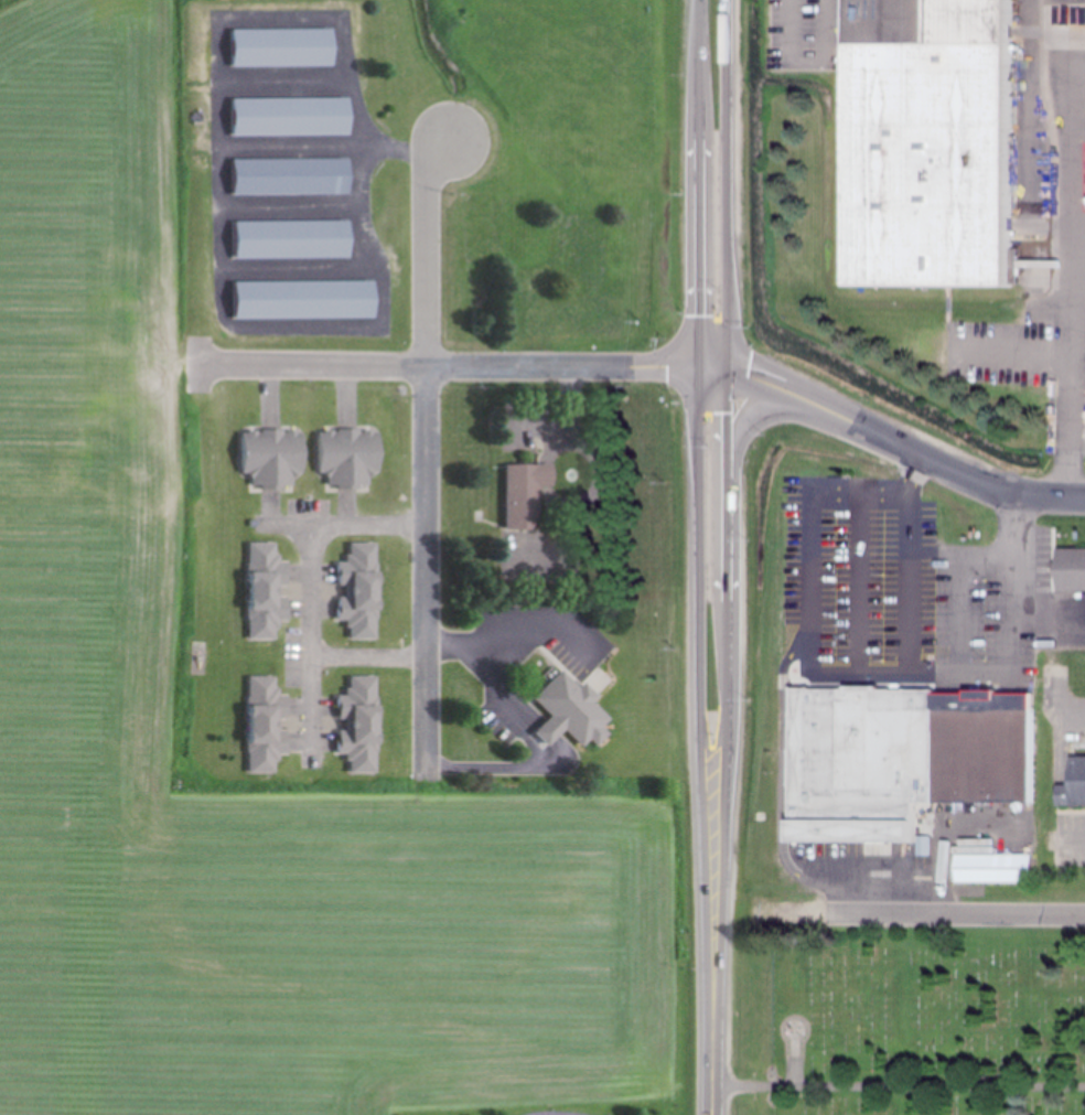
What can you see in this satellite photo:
road: (784, 10)
building: (282, 47)
building: (289, 117)
building: (925, 141)
building: (291, 178)
road: (699, 183)
road: (727, 183)
building: (291, 239)
building: (577, 247)
road: (1071, 277)
building: (304, 300)
road: (1016, 355)
road: (197, 365)
road: (448, 367)
traffic signals: (699, 367)
road: (713, 367)
traffic signals: (728, 367)
road: (774, 386)
road: (755, 415)
road: (852, 424)
road: (427, 454)
building: (273, 459)
building: (352, 460)
road: (941, 465)
road: (1042, 495)
building: (519, 496)
road: (913, 558)
road: (860, 560)
building: (1068, 571)
road: (812, 588)
road: (1014, 590)
road: (309, 591)
building: (266, 592)
building: (363, 592)
crop: (93, 614)
road: (911, 623)
road: (964, 623)
road: (511, 624)
road: (699, 640)
road: (728, 640)
road: (912, 689)
building: (562, 711)
building: (266, 725)
building: (362, 726)
building: (986, 752)
building: (864, 768)
building: (1073, 784)
building: (991, 868)
road: (956, 914)
road: (711, 1012)
park: (931, 1016)
road: (899, 1085)

